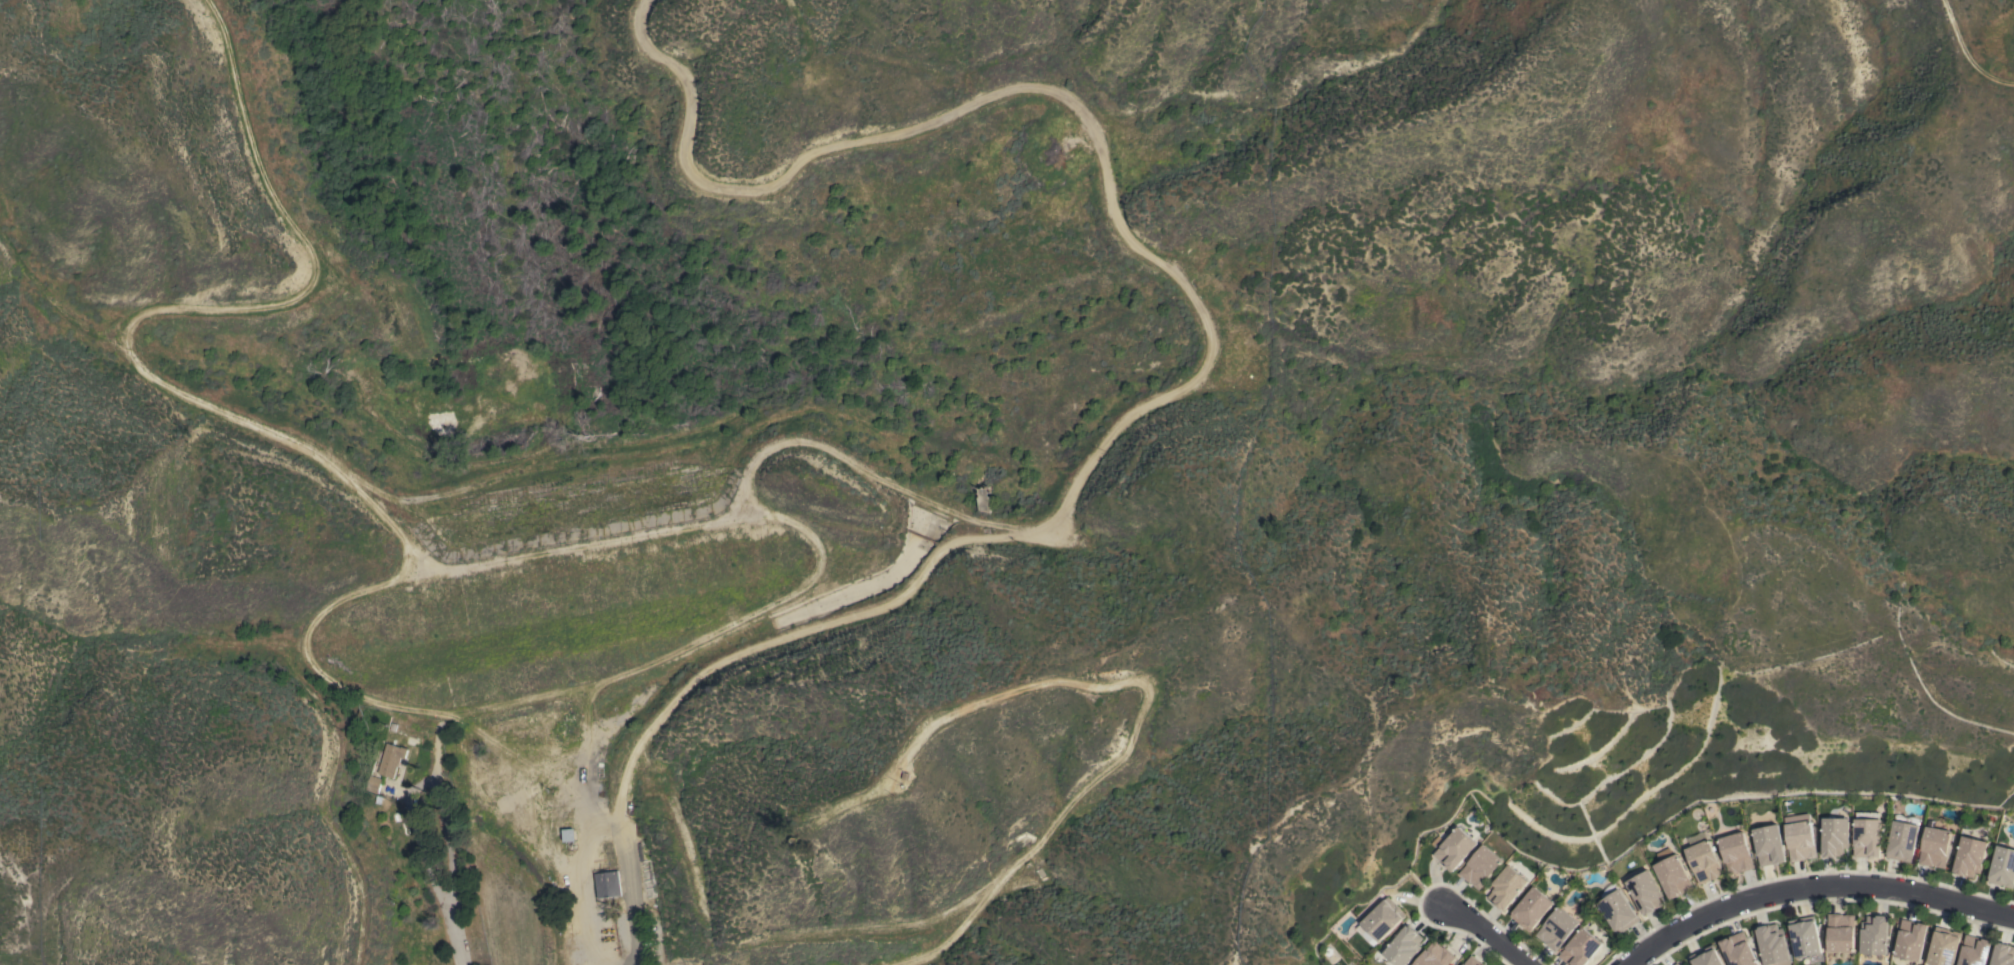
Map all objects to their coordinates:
road: (976, 107)
building: (980, 502)
dam: (584, 505)
road: (467, 568)
road: (754, 616)
power tower: (1535, 704)
building: (389, 759)
building: (371, 784)
road: (418, 834)
building: (568, 834)
building: (1866, 834)
building: (1834, 836)
building: (1799, 837)
building: (1902, 839)
road: (449, 842)
building: (1768, 844)
building: (1934, 846)
building: (1452, 848)
building: (1735, 852)
building: (1969, 856)
building: (1703, 861)
building: (1479, 866)
building: (2002, 867)
building: (1671, 873)
building: (607, 884)
building: (1505, 886)
road: (1815, 888)
building: (1644, 891)
building: (1530, 908)
building: (1616, 909)
building: (1379, 921)
building: (1556, 928)
road: (1485, 932)
building: (1840, 932)
building: (1874, 934)
building: (1804, 936)
building: (1909, 939)
building: (1772, 945)
building: (1403, 946)
building: (1943, 946)
building: (1579, 948)
building: (1737, 950)
building: (1974, 950)
building: (2002, 954)
building: (1434, 955)
building: (1705, 957)
building: (1472, 961)
building: (1675, 963)

